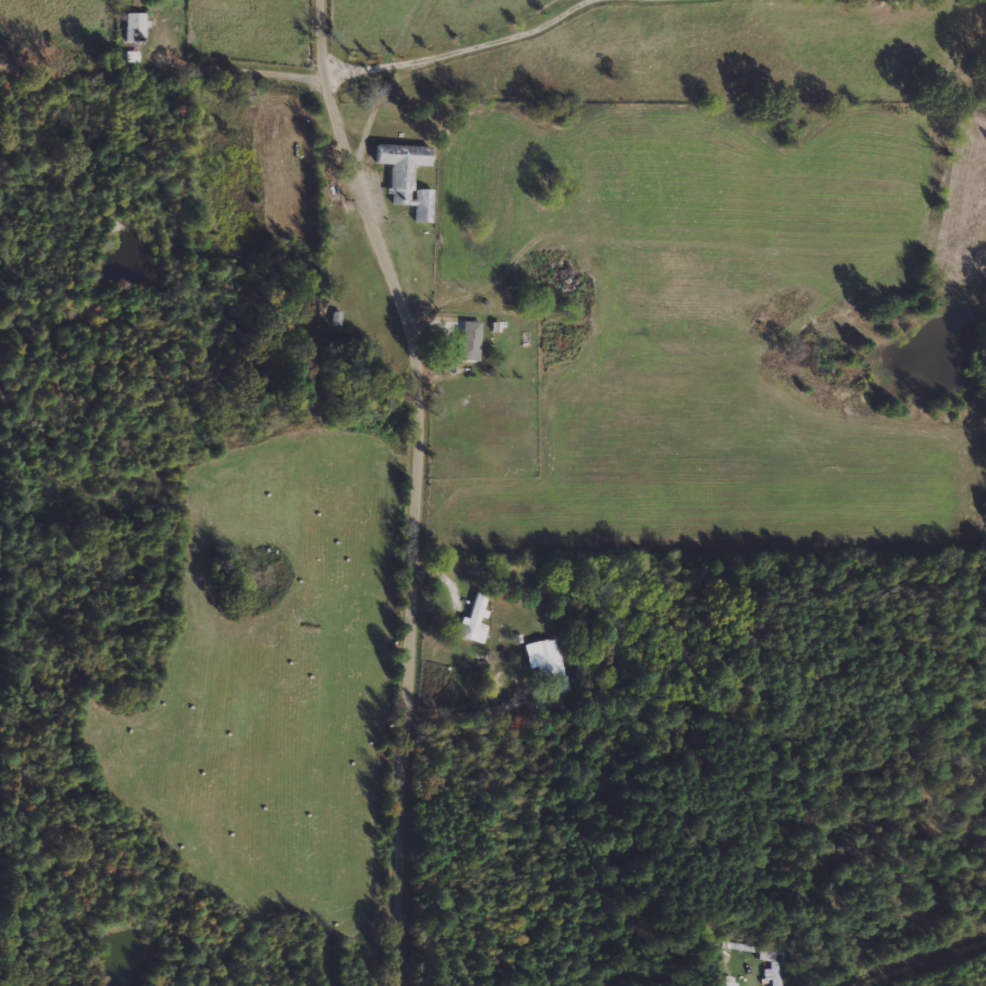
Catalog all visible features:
building: (133, 26)
road: (398, 59)
building: (406, 176)
building: (468, 340)
road: (424, 486)
building: (472, 620)
building: (548, 666)
road: (511, 718)
building: (775, 973)

